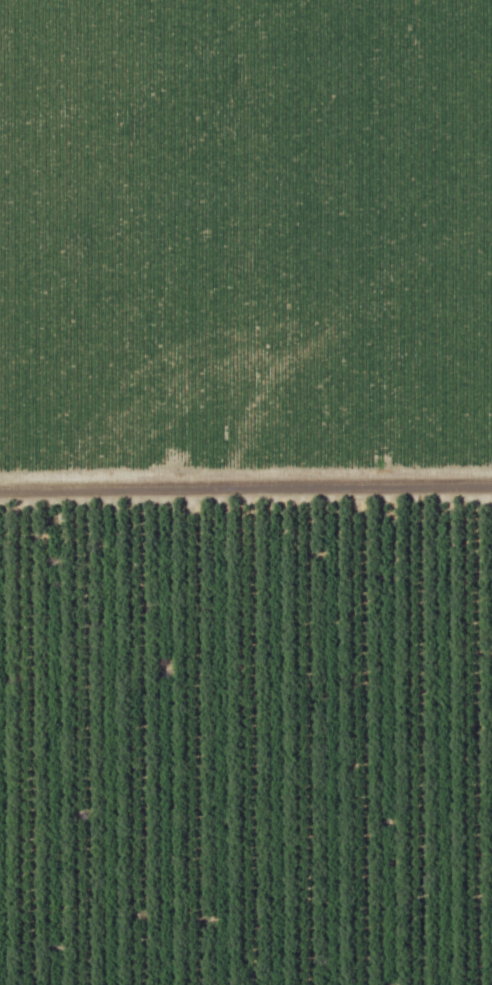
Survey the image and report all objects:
crop: (245, 237)
road: (409, 485)
road: (163, 487)

